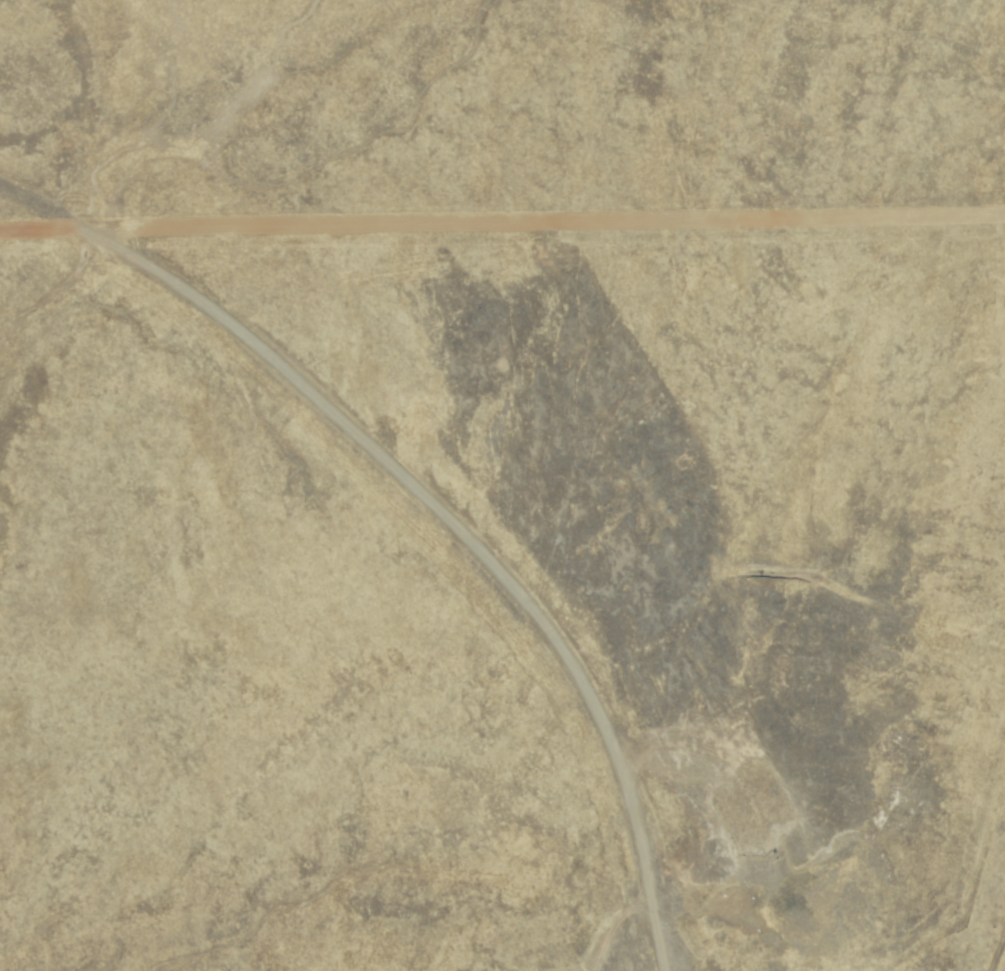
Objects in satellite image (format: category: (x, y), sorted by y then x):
road: (451, 528)
airport: (503, 595)
road: (999, 956)

